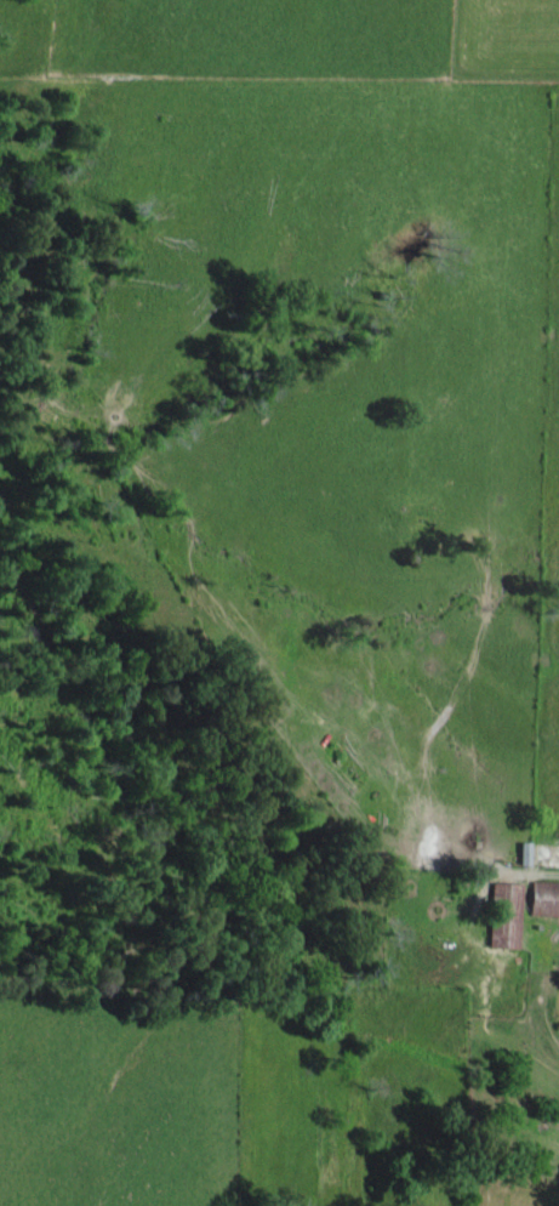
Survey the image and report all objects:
building: (521, 851)
building: (542, 897)
building: (502, 912)

